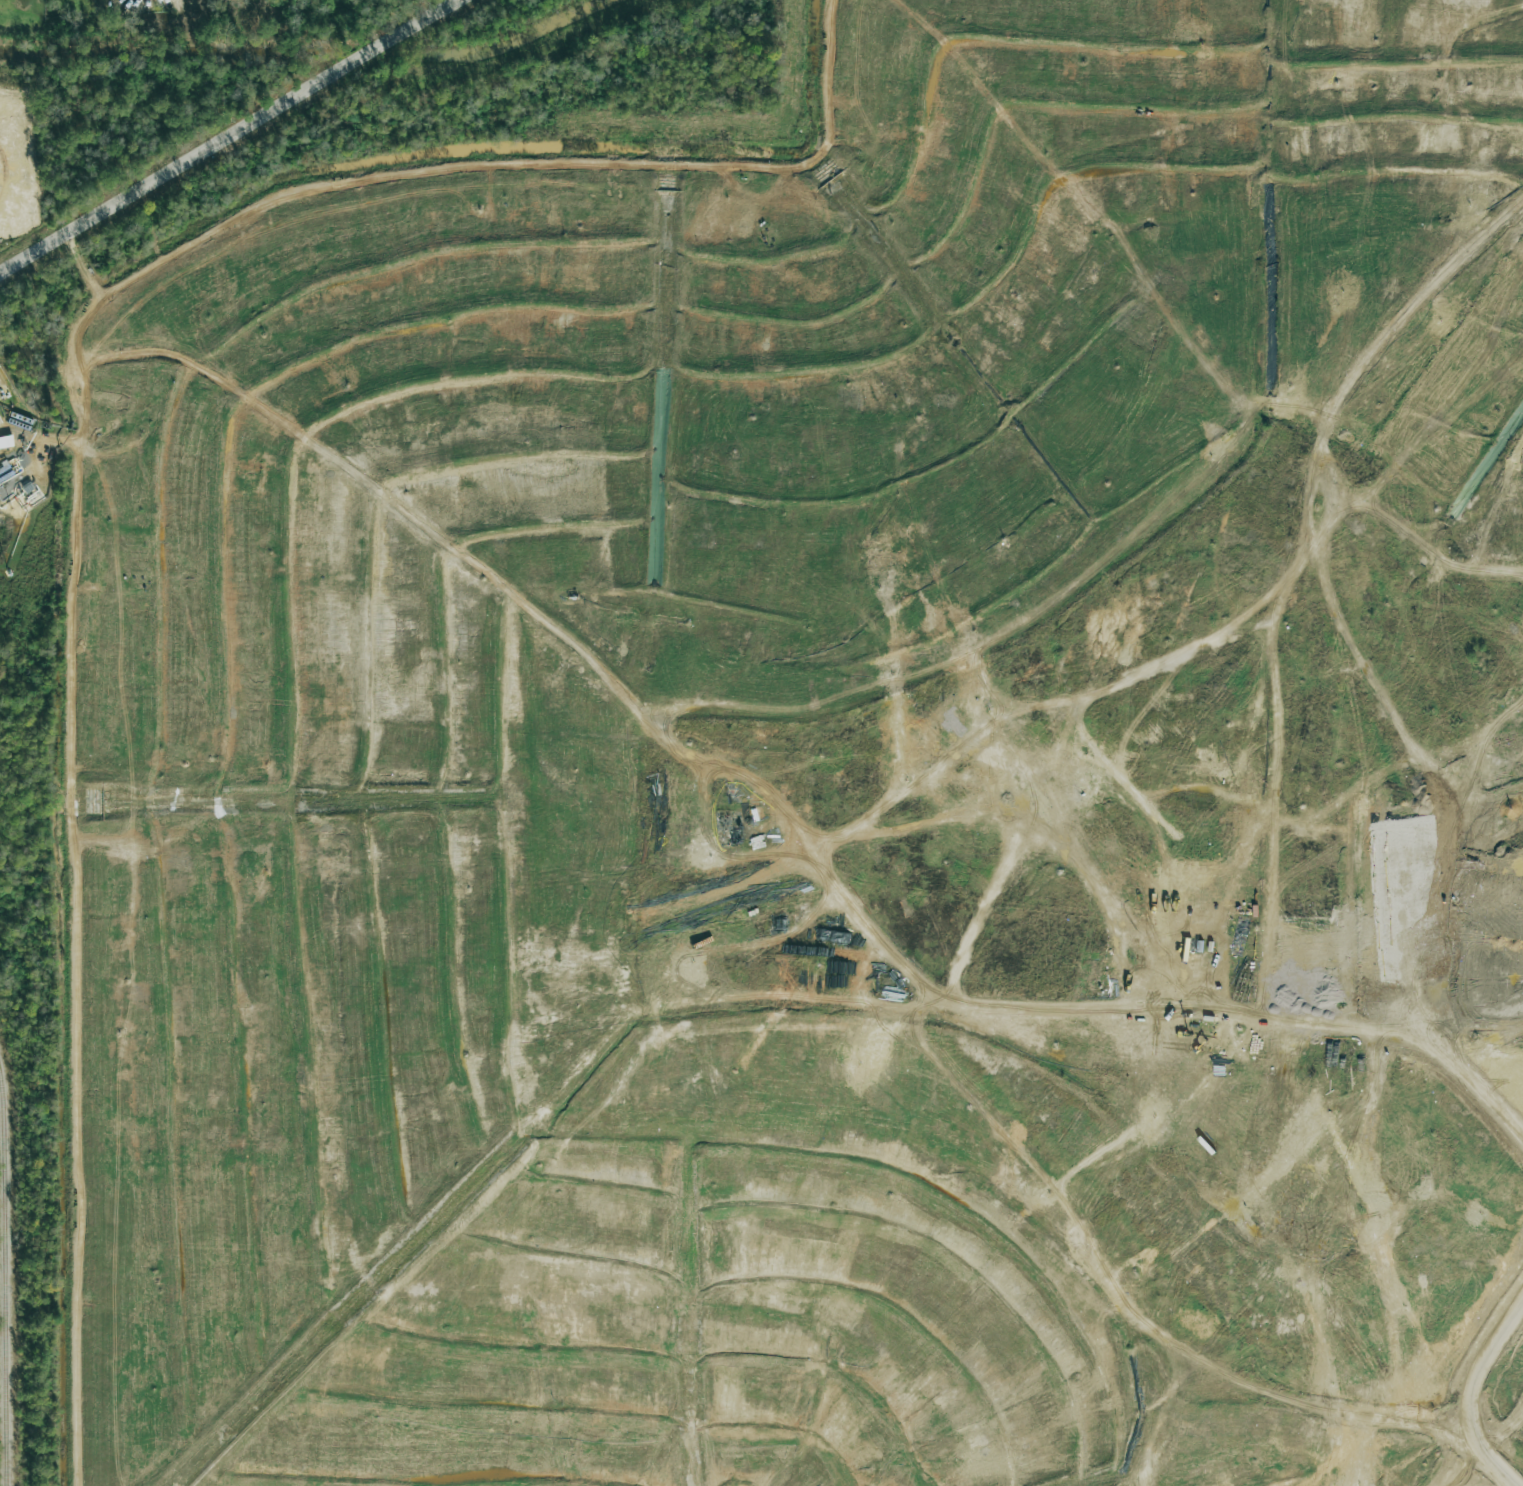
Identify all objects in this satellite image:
road: (836, 77)
road: (1516, 119)
road: (231, 136)
road: (379, 189)
road: (12, 412)
building: (0, 422)
road: (43, 437)
building: (6, 441)
landfill: (815, 784)
road: (1418, 931)
road: (82, 967)
railway: (7, 1273)

